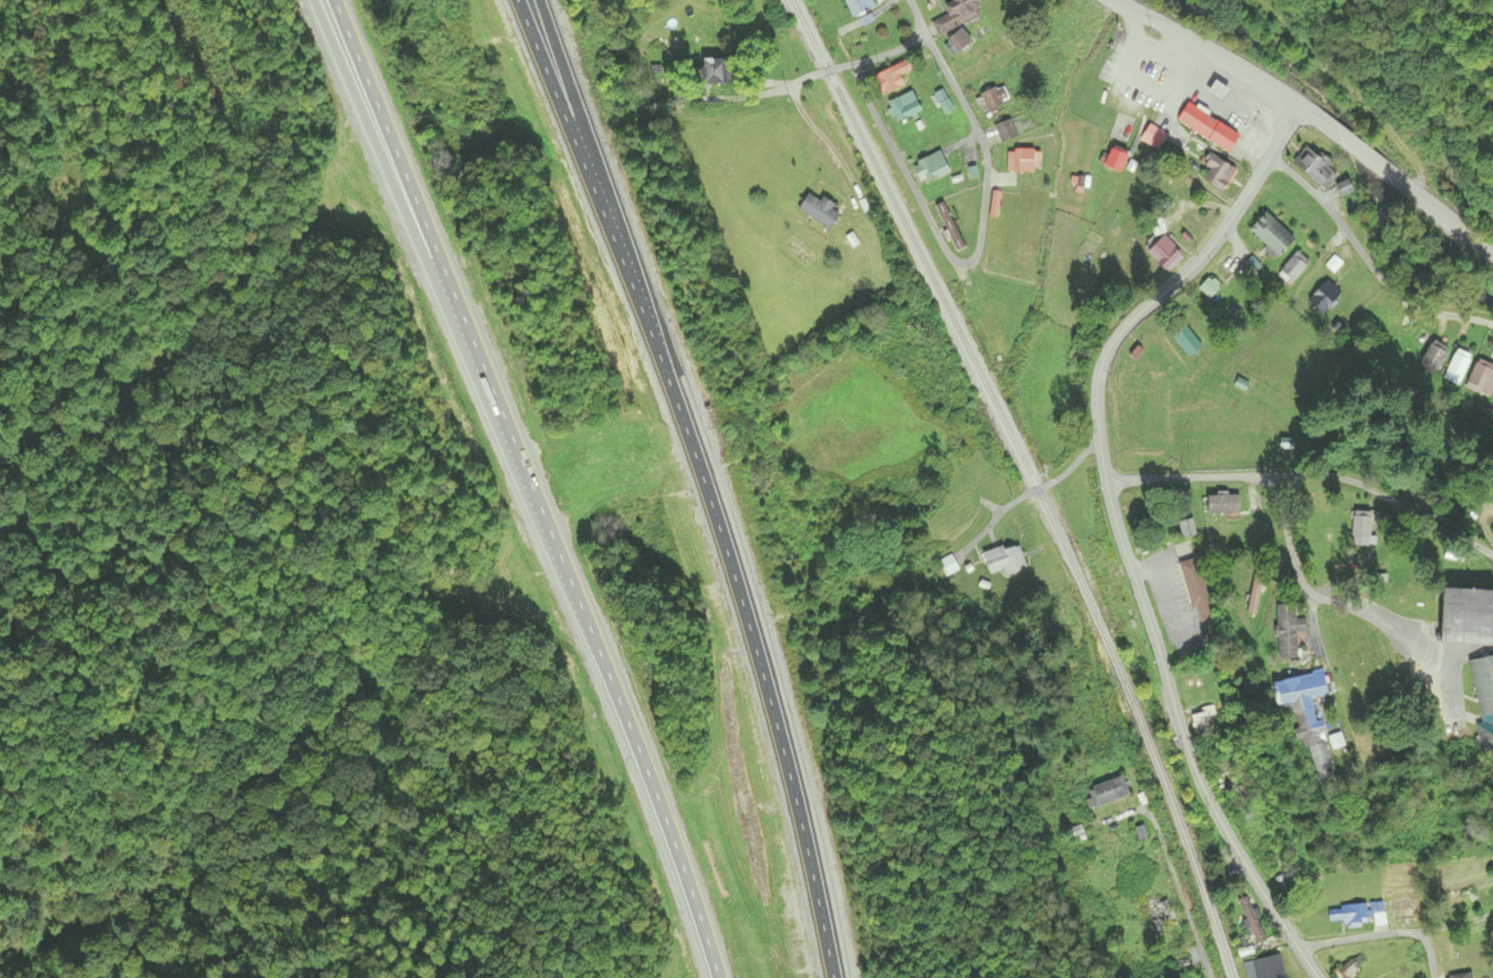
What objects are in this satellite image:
building: (858, 6)
building: (956, 15)
building: (957, 42)
road: (1209, 50)
road: (880, 58)
building: (712, 72)
building: (890, 79)
road: (800, 84)
road: (357, 88)
road: (366, 88)
building: (993, 98)
building: (904, 109)
road: (1322, 123)
building: (1207, 128)
building: (1005, 132)
building: (1153, 138)
road: (588, 141)
road: (575, 142)
river: (1352, 144)
road: (1365, 154)
building: (1114, 158)
building: (1019, 162)
building: (931, 167)
building: (1314, 169)
building: (1217, 174)
building: (819, 211)
road: (1441, 213)
building: (1271, 235)
road: (981, 244)
building: (1164, 254)
road: (1370, 264)
building: (1293, 268)
road: (1187, 272)
building: (1324, 297)
building: (1187, 343)
building: (1432, 360)
building: (1458, 367)
building: (1481, 379)
road: (1308, 475)
railway: (1033, 481)
road: (1032, 492)
building: (1223, 504)
building: (1186, 528)
building: (1361, 529)
building: (1004, 560)
building: (949, 566)
road: (564, 575)
building: (1111, 575)
road: (1299, 578)
building: (1197, 590)
building: (1254, 593)
building: (1466, 615)
road: (1378, 623)
road: (746, 627)
building: (1287, 631)
building: (1482, 683)
building: (1306, 717)
building: (1204, 721)
road: (1178, 723)
building: (1484, 734)
building: (1235, 778)
building: (1106, 792)
building: (1282, 883)
road: (1179, 895)
building: (1460, 900)
building: (1403, 908)
building: (1158, 914)
building: (1349, 915)
building: (1251, 920)
road: (1451, 929)
road: (1382, 938)
building: (1348, 970)
building: (1461, 976)

